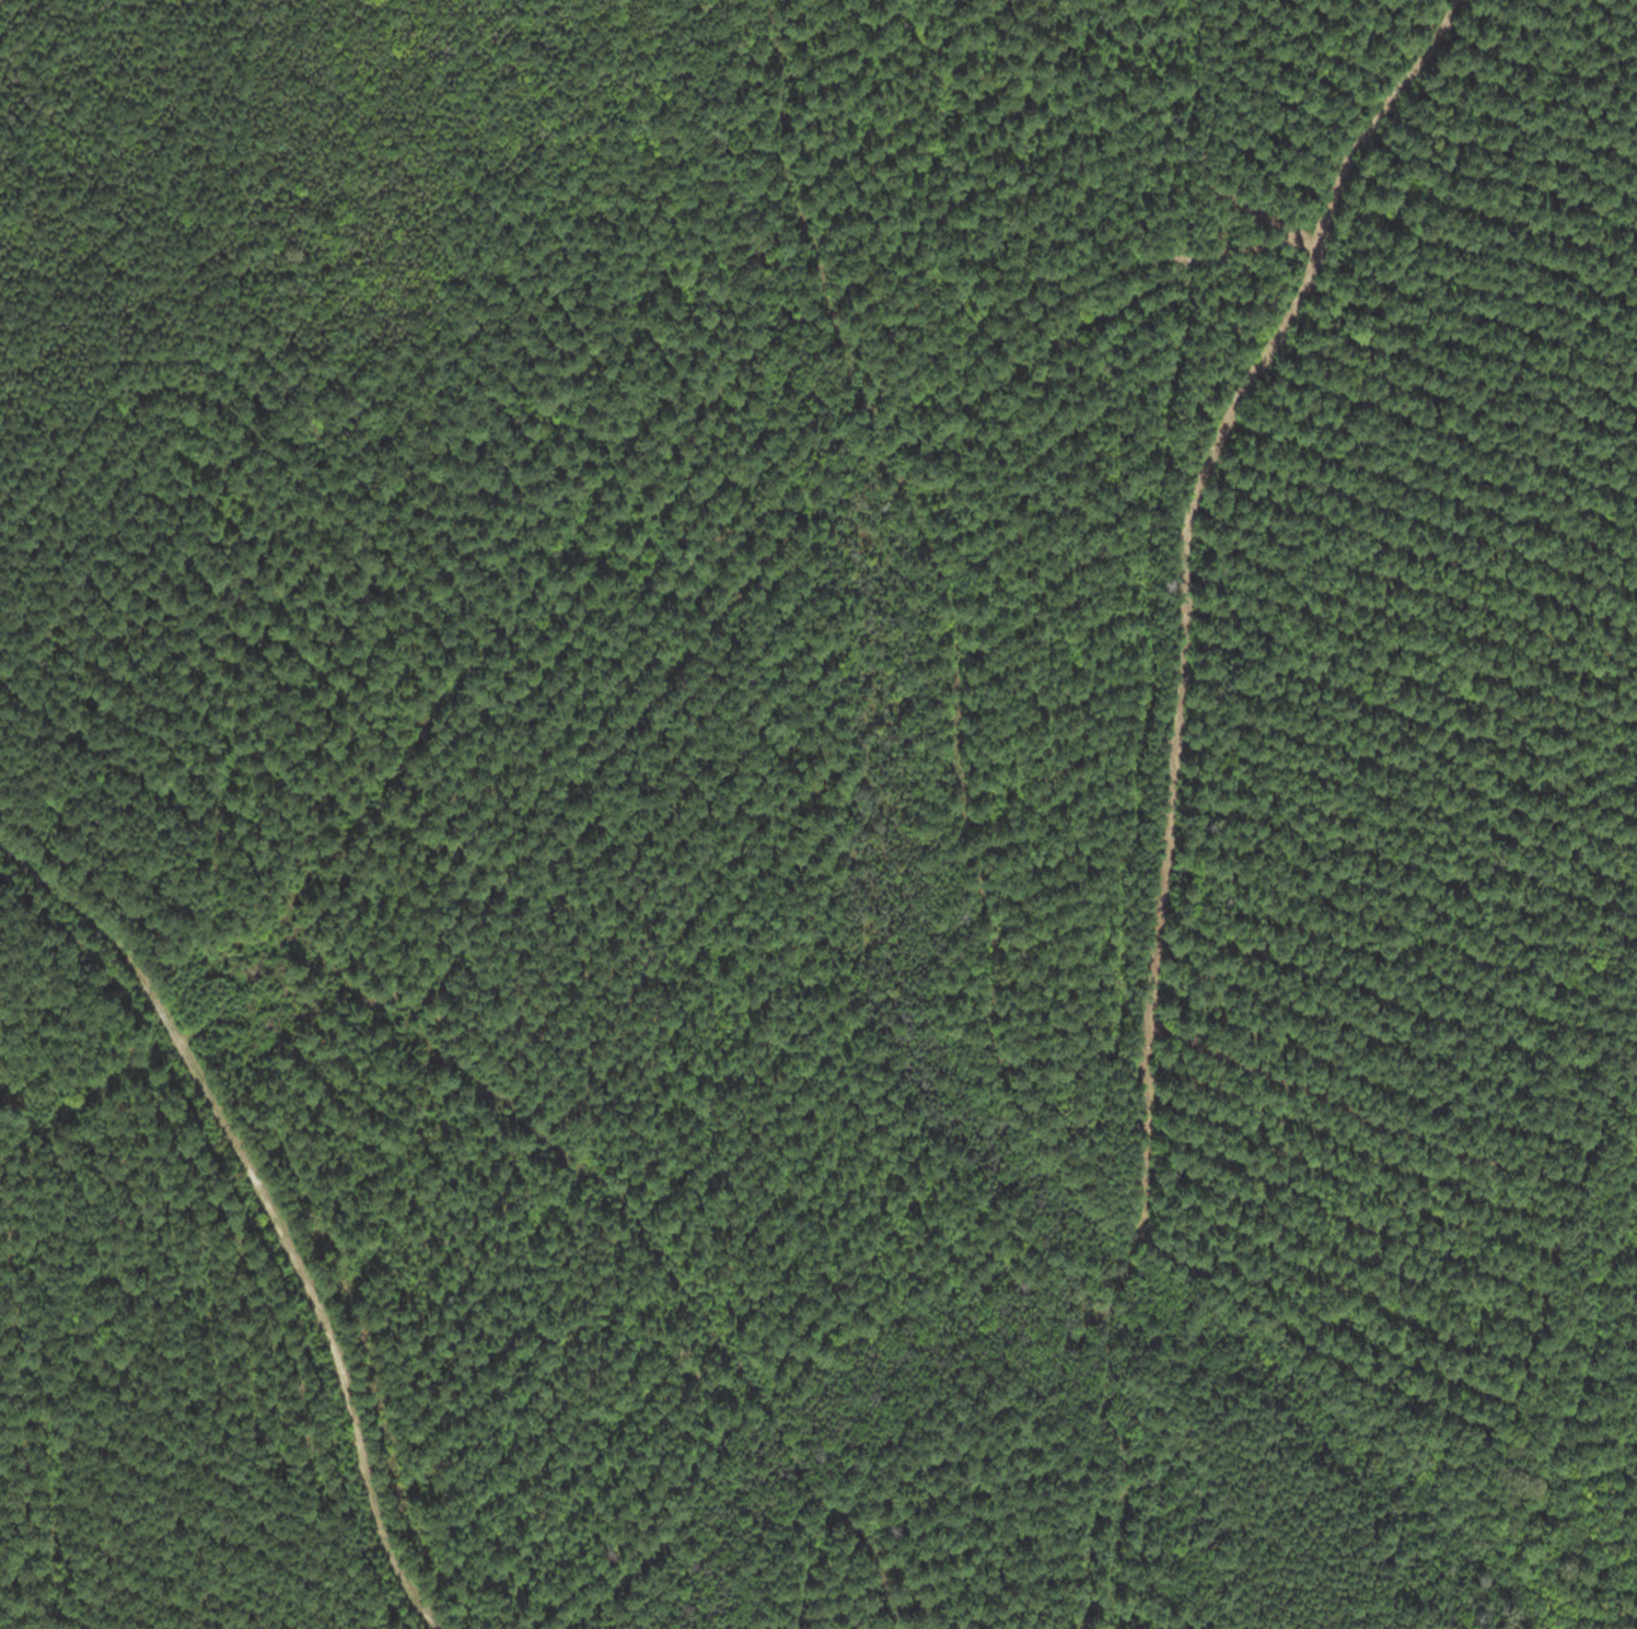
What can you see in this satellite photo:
road: (268, 1207)

